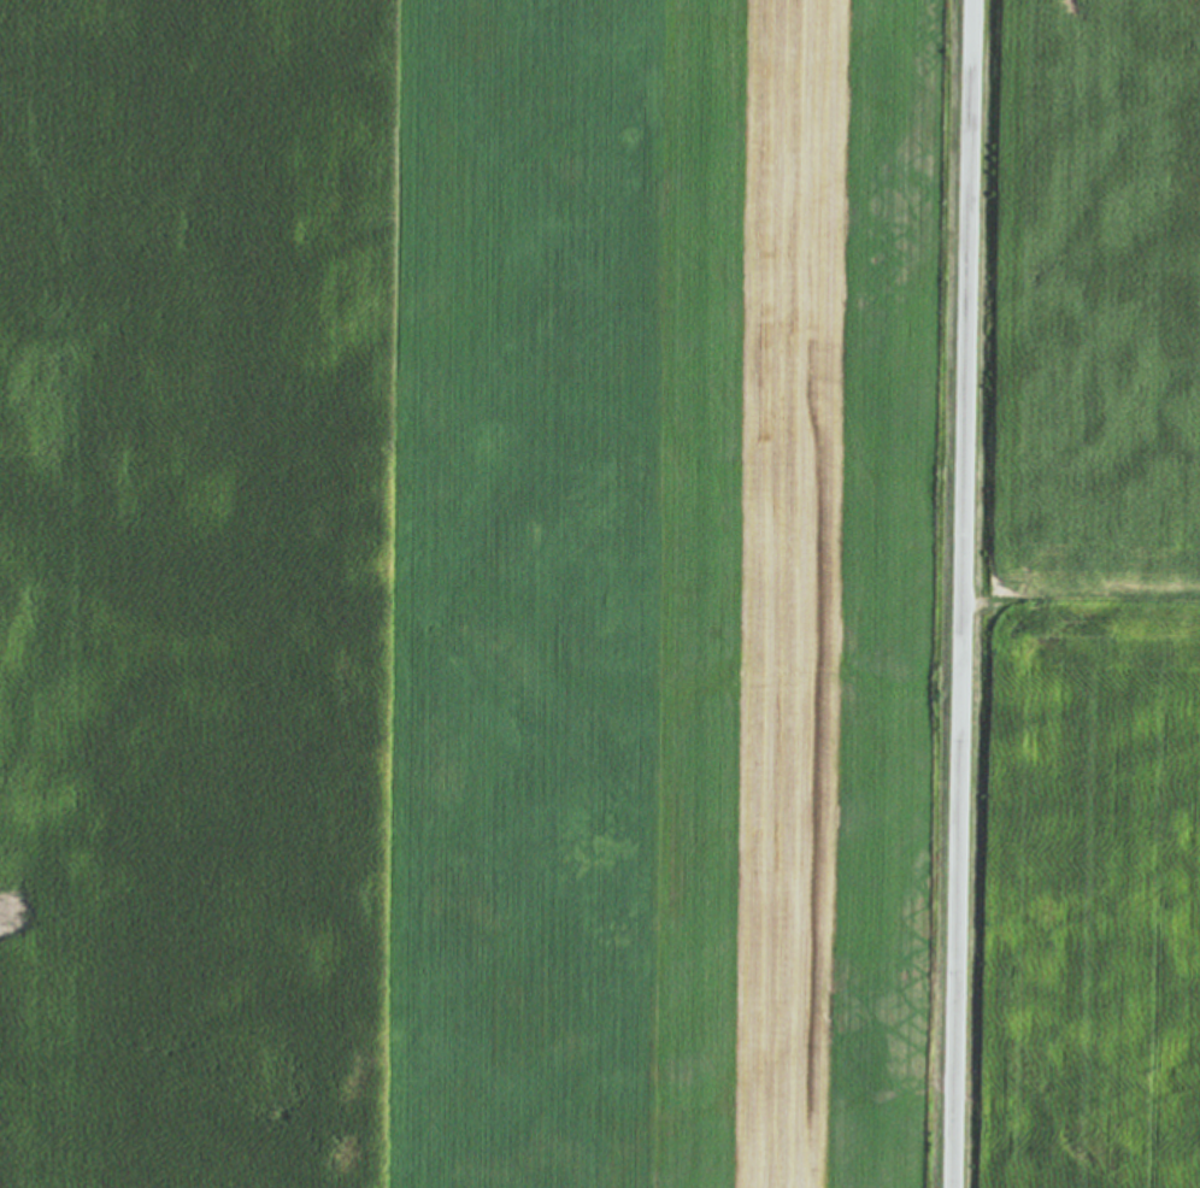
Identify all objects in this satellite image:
road: (967, 594)

